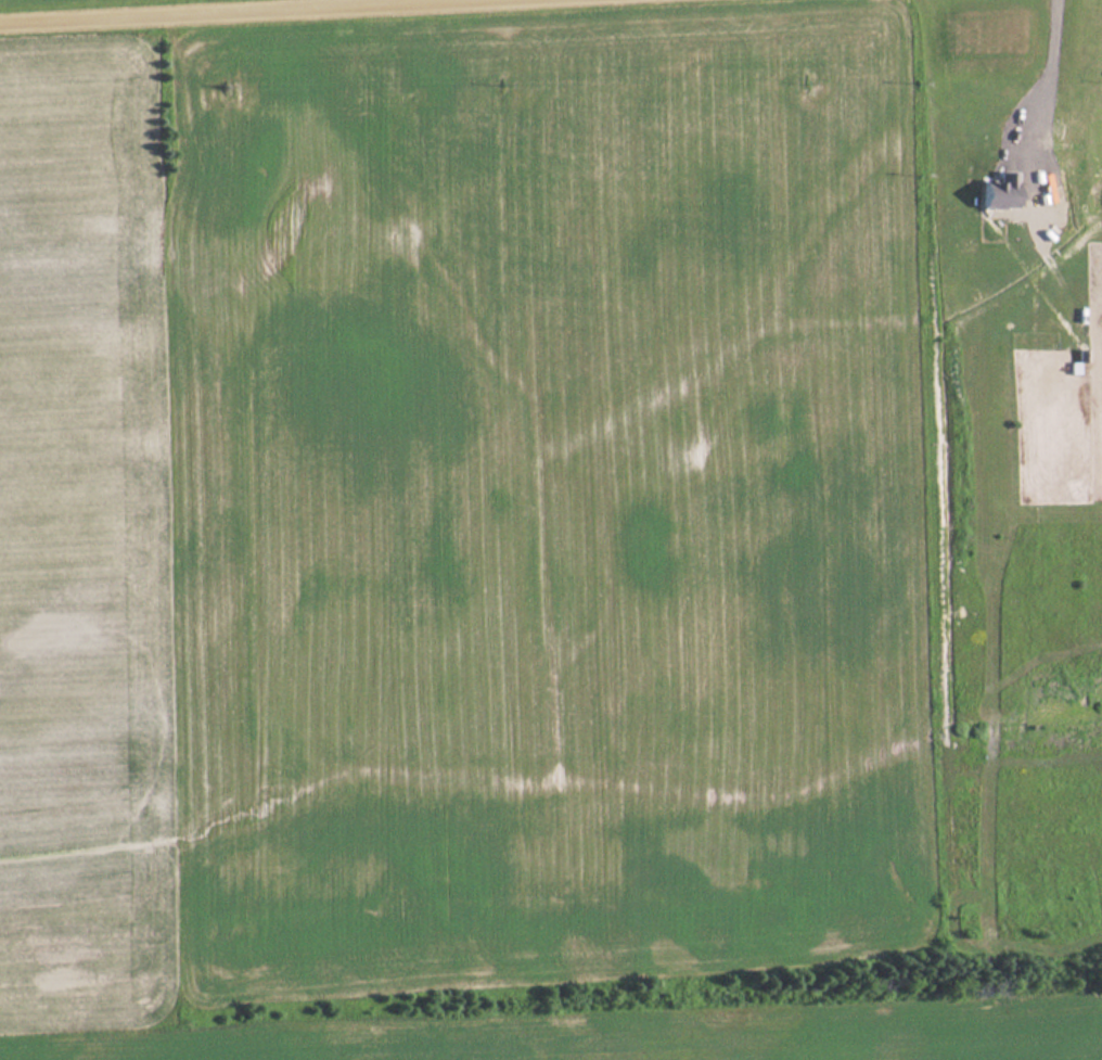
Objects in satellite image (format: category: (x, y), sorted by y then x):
road: (337, 15)
building: (1000, 192)

